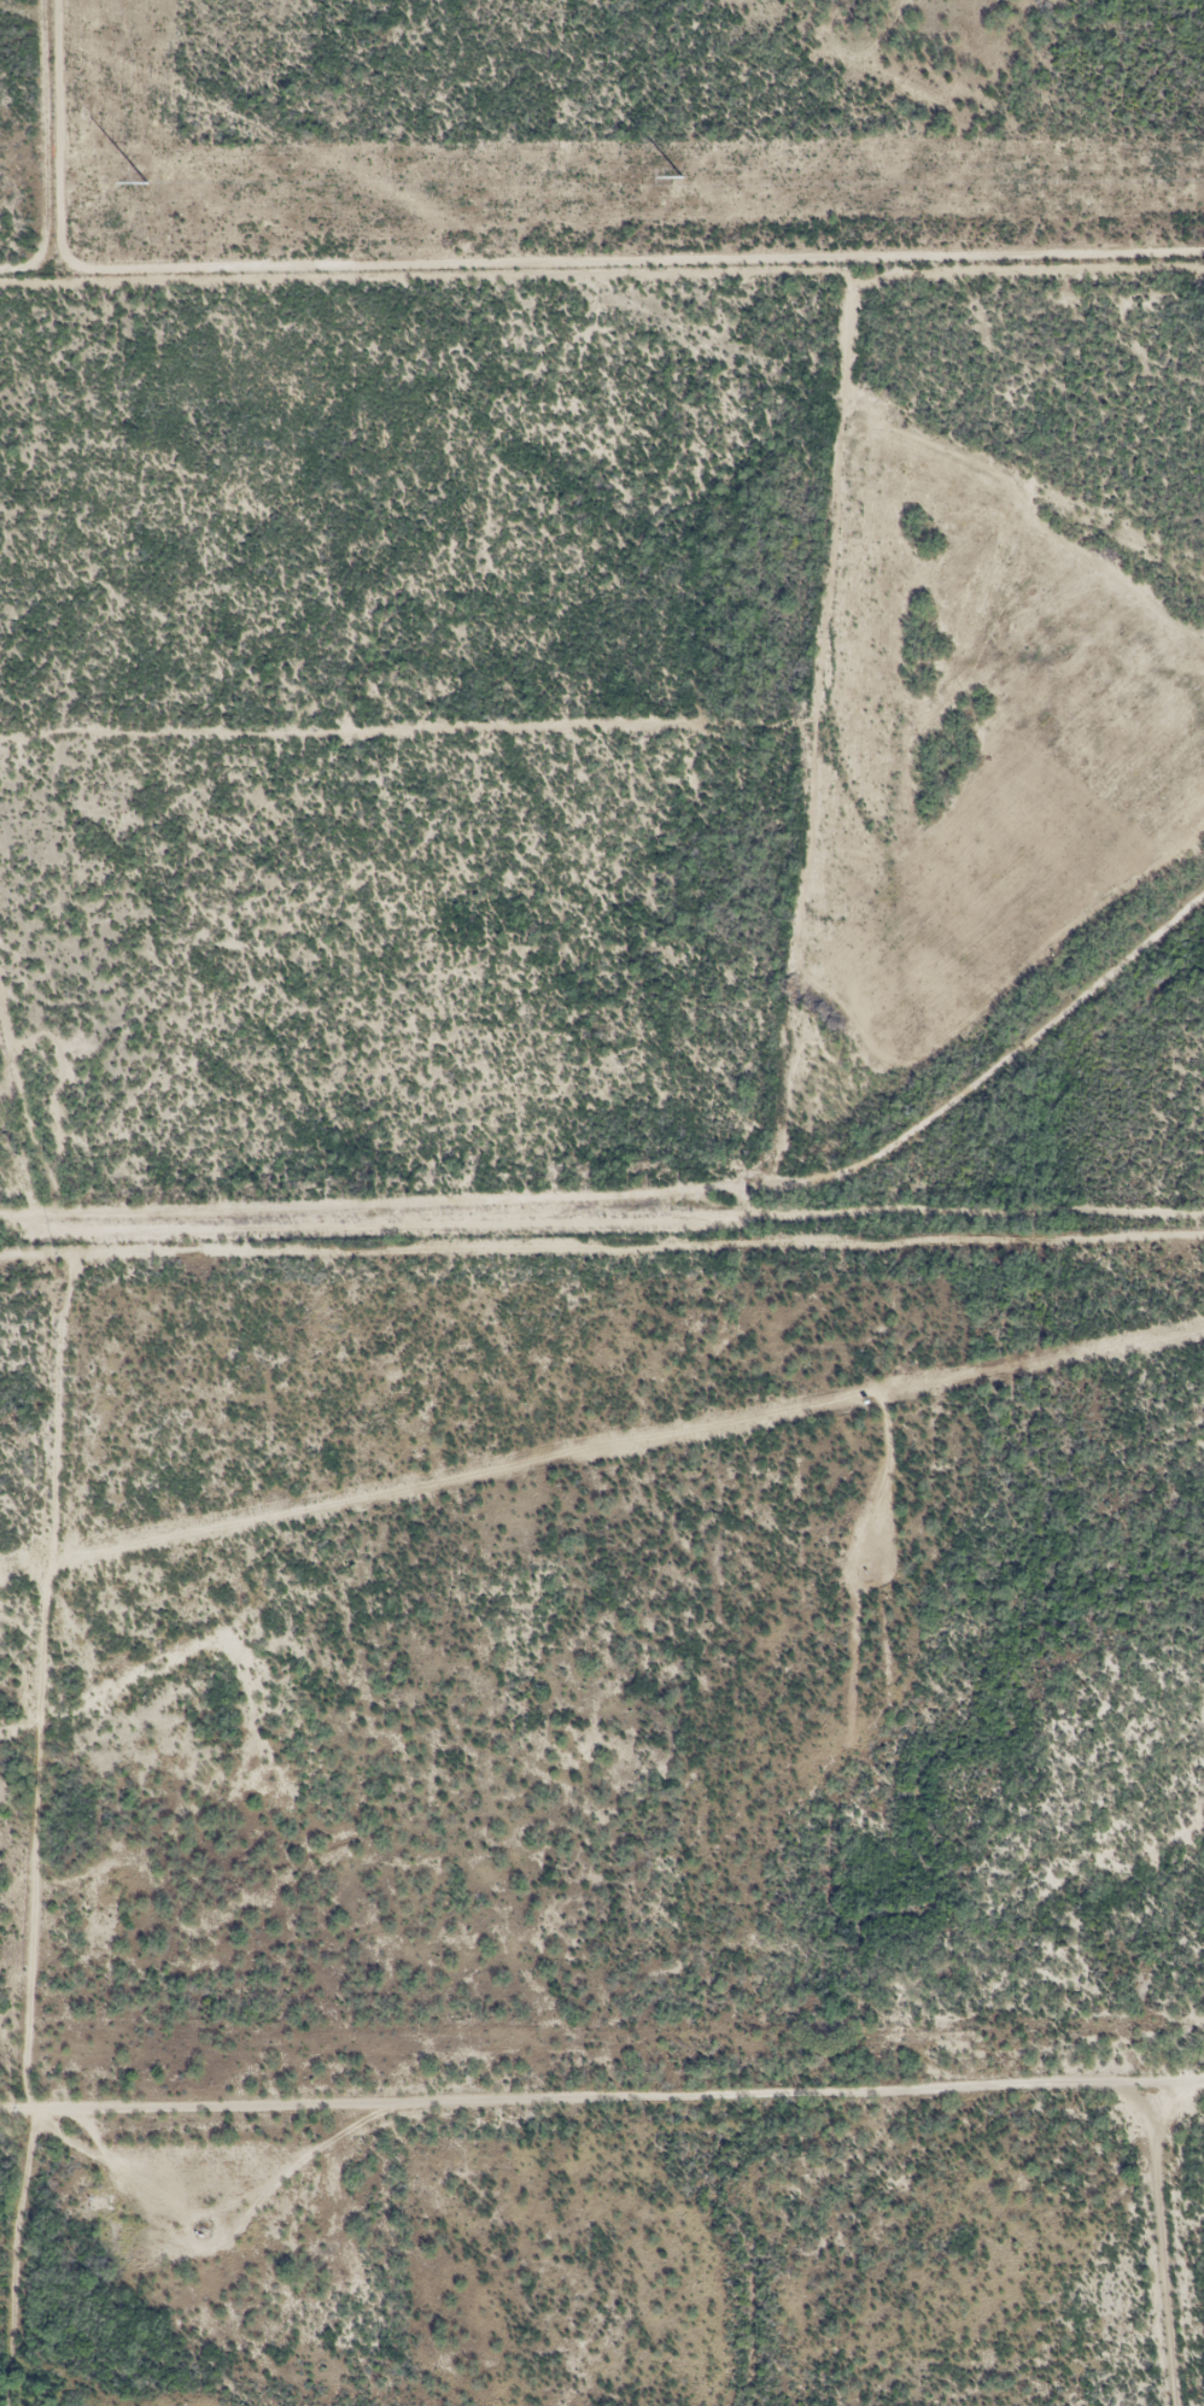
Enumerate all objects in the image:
power tower: (679, 180)
power tower: (144, 186)
road: (601, 2095)
road: (1130, 2248)

